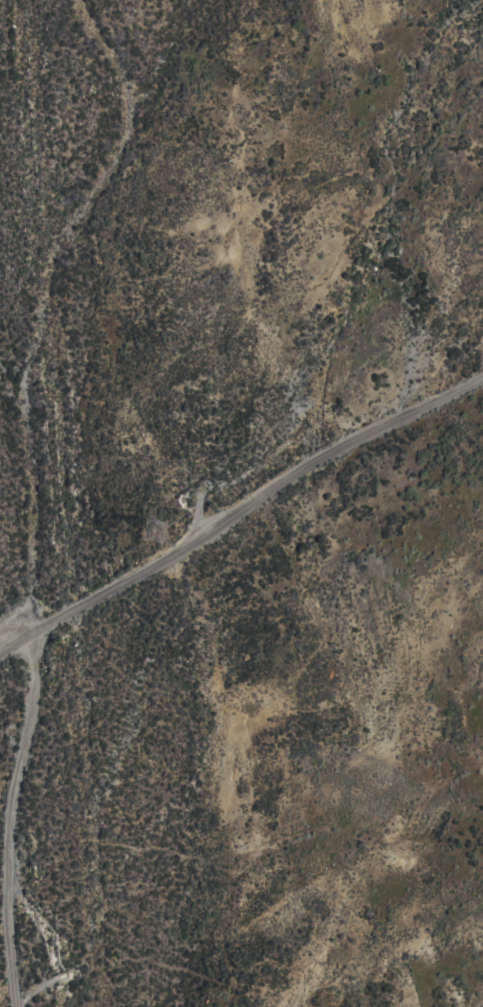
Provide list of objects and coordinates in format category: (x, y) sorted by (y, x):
road: (238, 508)
power tower: (153, 527)
road: (5, 817)

